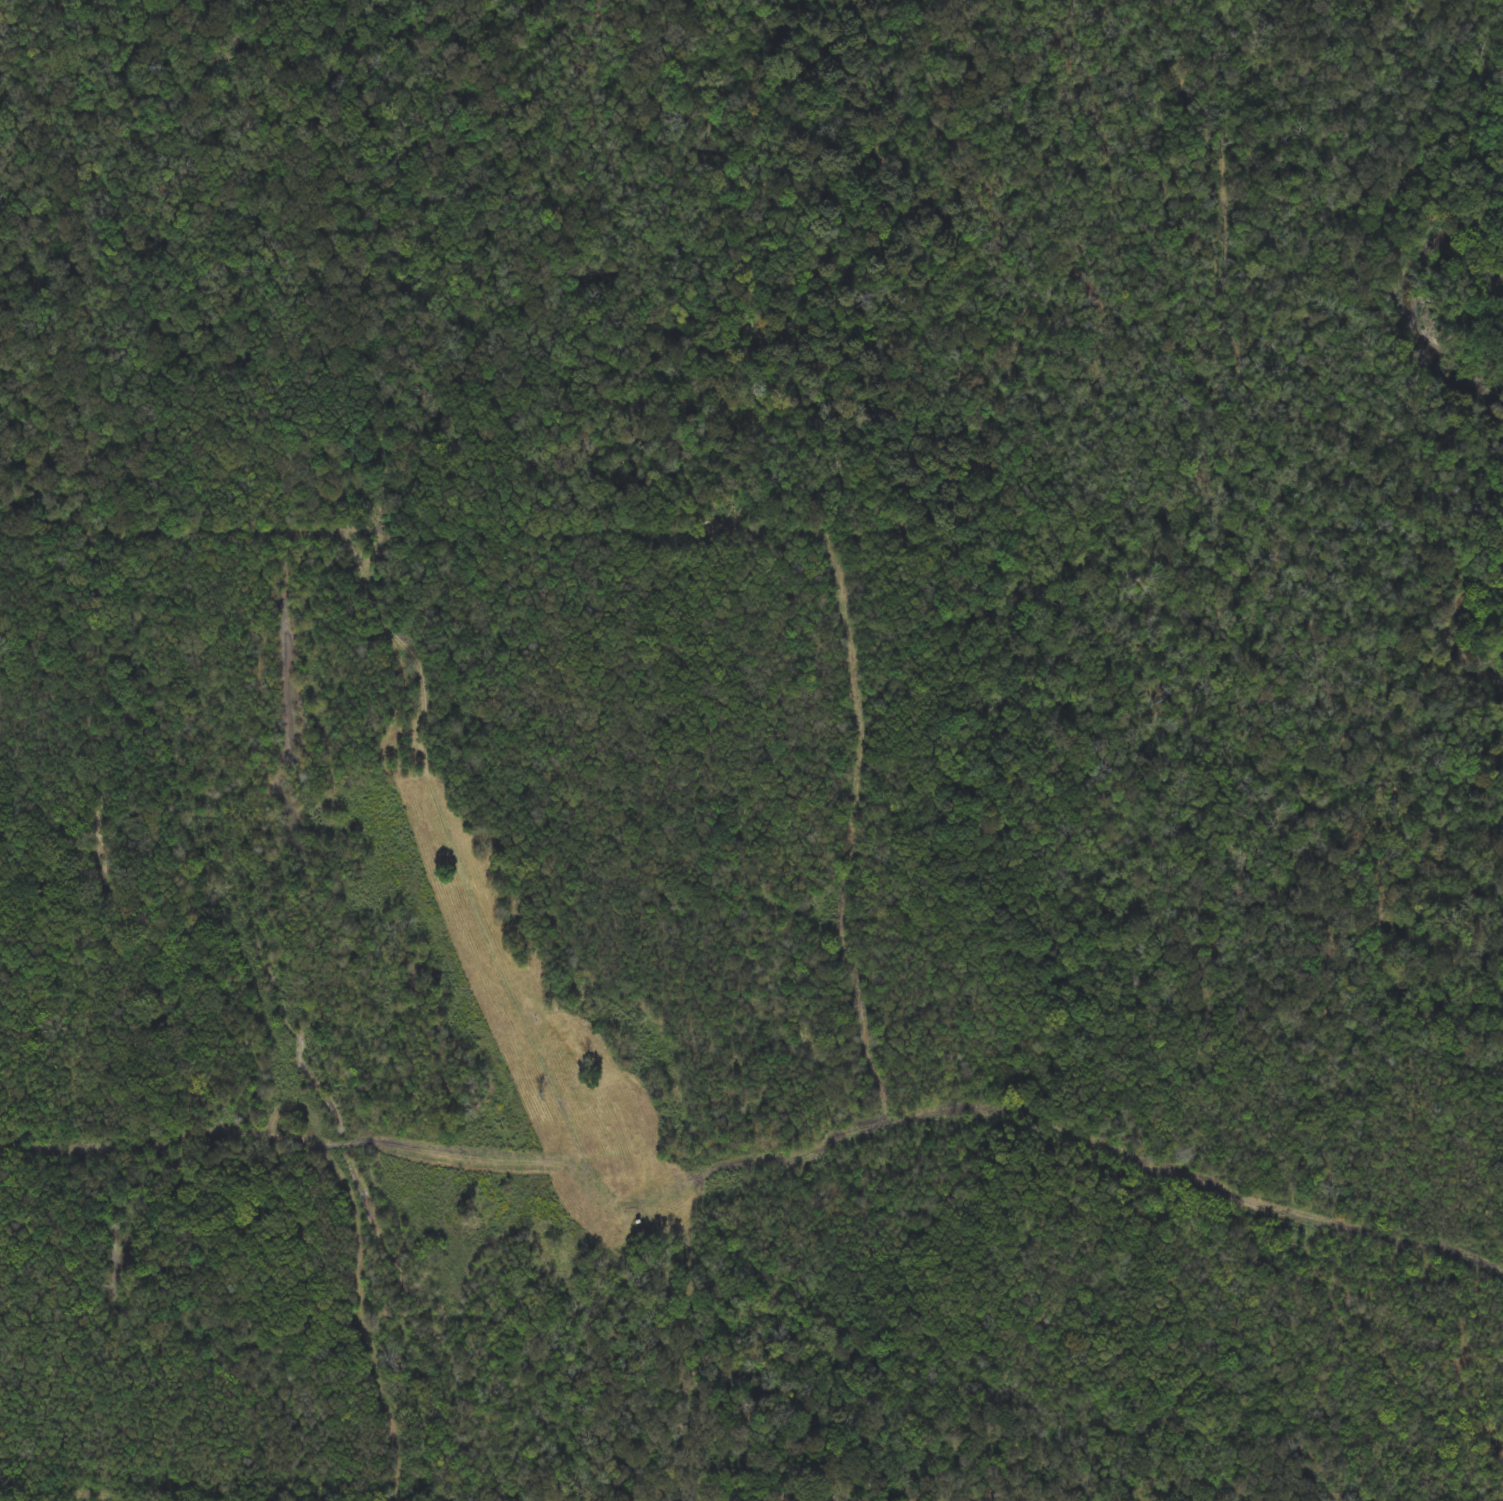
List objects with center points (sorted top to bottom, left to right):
river: (1428, 301)
river: (1478, 629)

